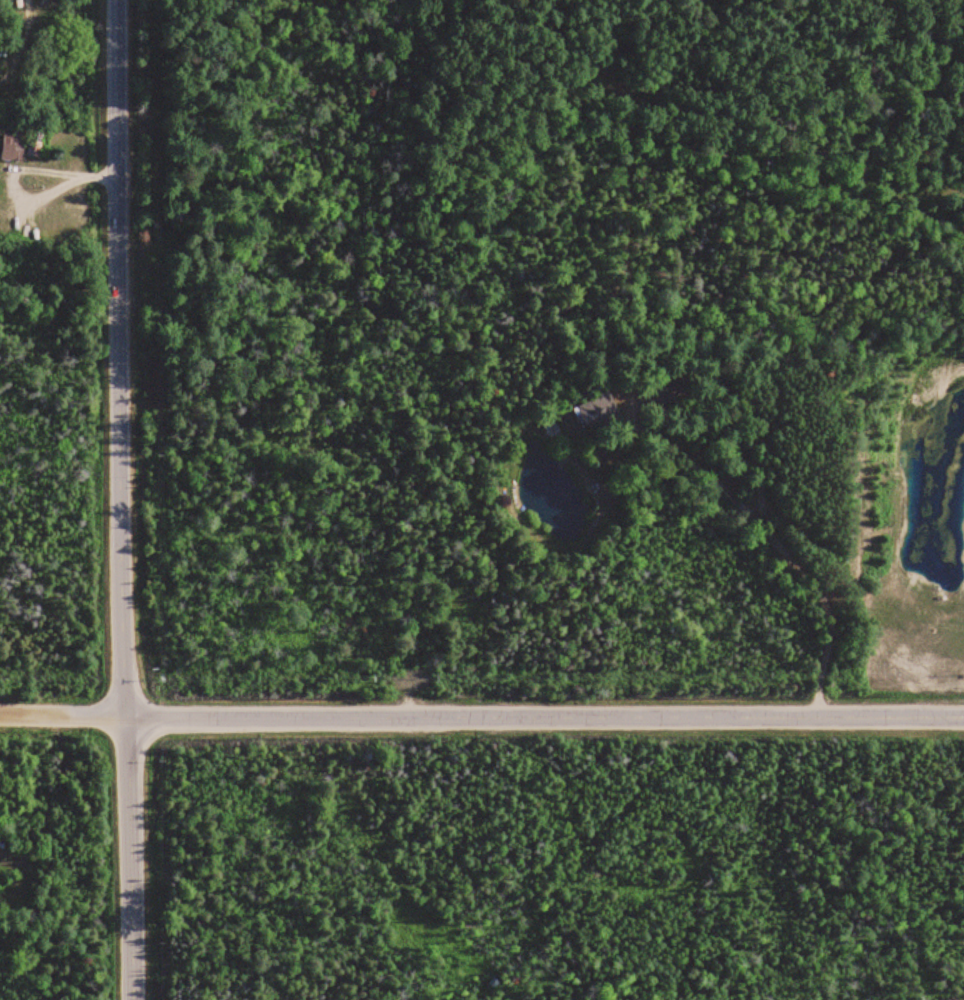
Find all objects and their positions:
building: (0, 49)
building: (12, 148)
building: (9, 221)
building: (598, 408)
road: (128, 500)
road: (65, 708)
road: (546, 711)

